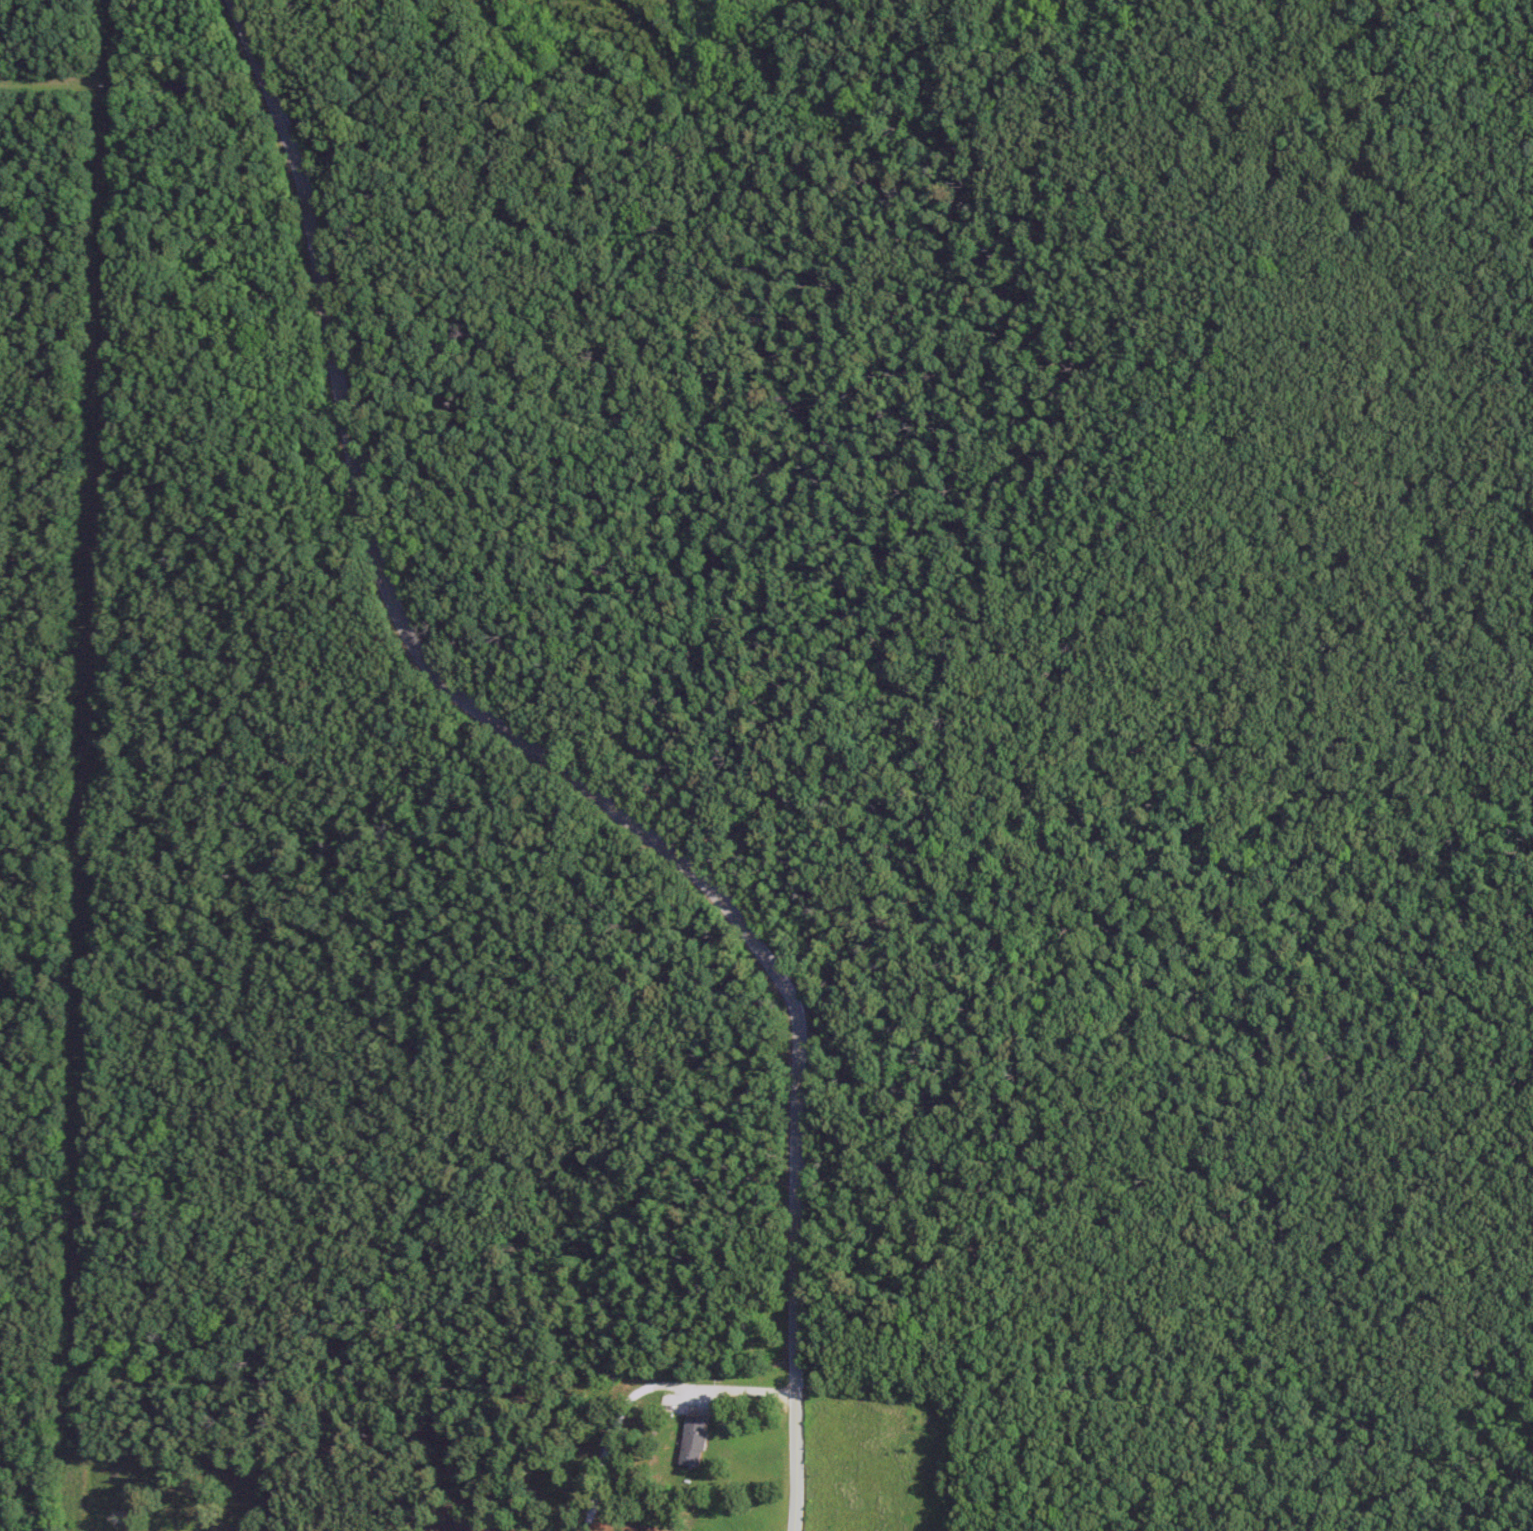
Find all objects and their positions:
road: (554, 770)
road: (935, 1403)
building: (696, 1441)

